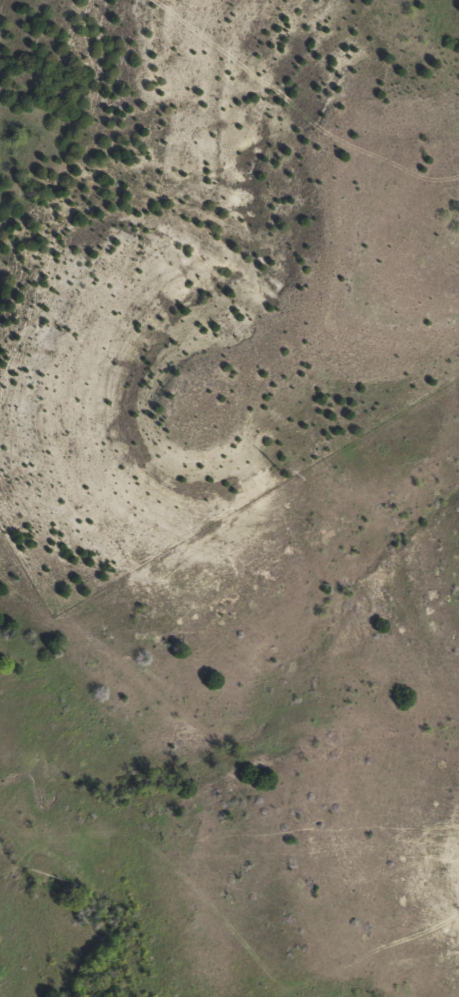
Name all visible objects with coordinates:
power tower: (281, 470)

